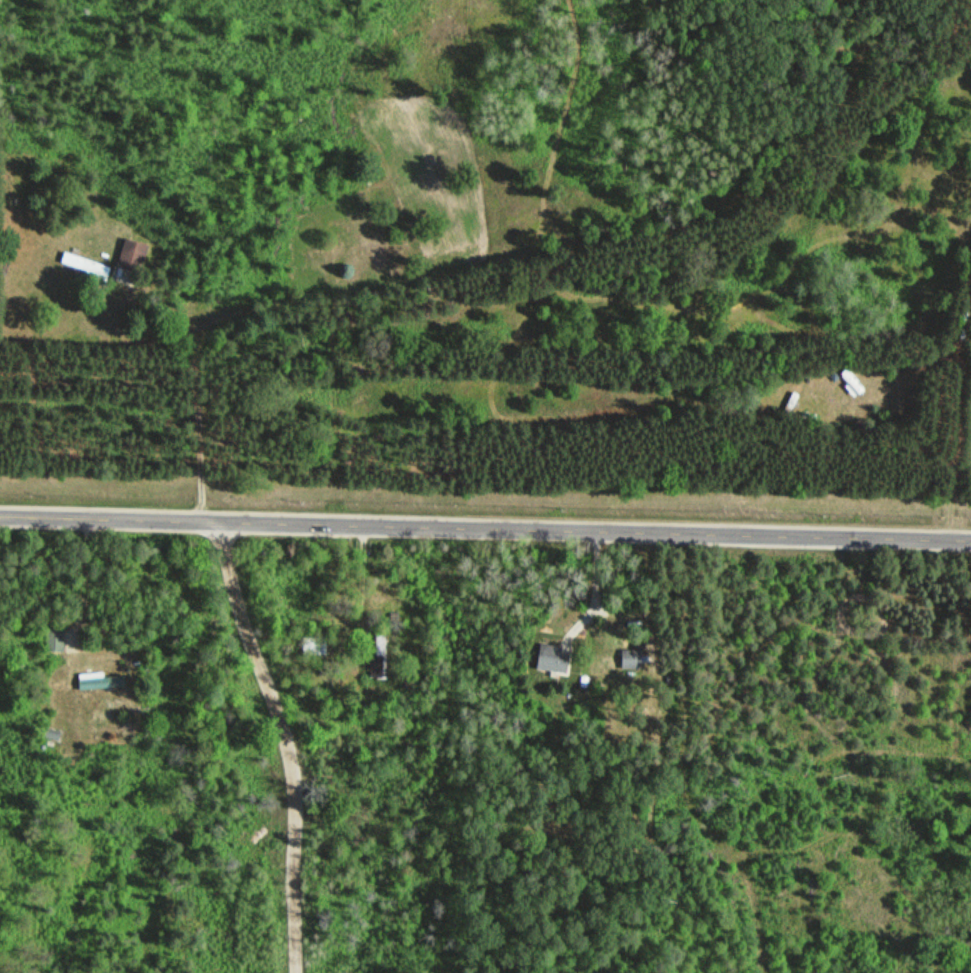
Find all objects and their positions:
building: (134, 254)
building: (88, 266)
road: (198, 394)
road: (485, 529)
building: (56, 638)
building: (315, 644)
building: (380, 655)
building: (554, 657)
building: (632, 658)
building: (101, 679)
road: (292, 741)

